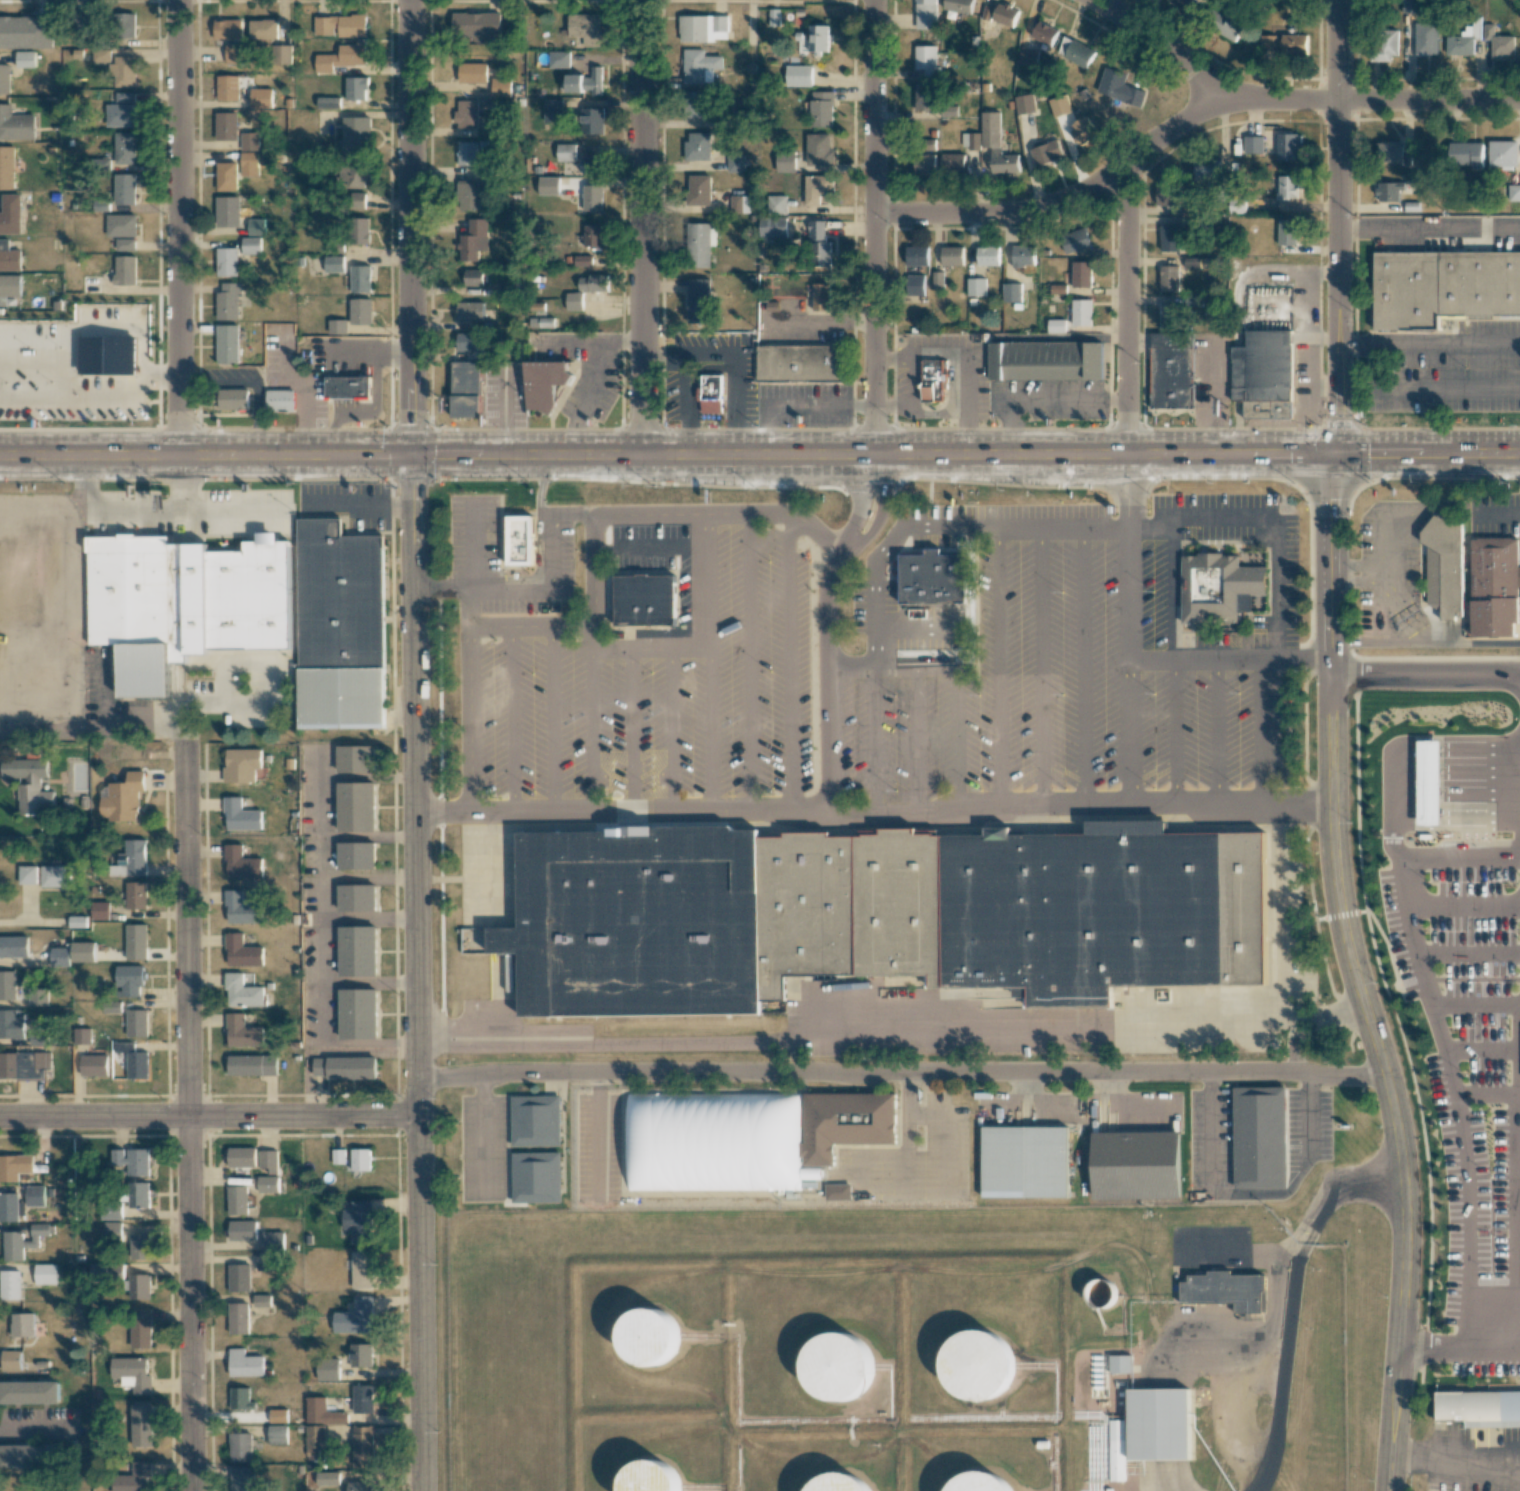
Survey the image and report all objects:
building: (1181, 4)
building: (959, 6)
building: (1411, 6)
building: (925, 14)
building: (1005, 15)
building: (773, 17)
building: (125, 25)
building: (340, 26)
building: (1232, 26)
building: (586, 28)
building: (703, 28)
building: (227, 29)
building: (263, 29)
building: (26, 32)
building: (1044, 33)
building: (818, 38)
building: (1426, 39)
building: (1464, 39)
building: (1498, 42)
building: (1385, 44)
building: (1284, 45)
building: (1075, 52)
building: (233, 53)
building: (101, 55)
building: (283, 55)
building: (1027, 56)
building: (341, 58)
building: (25, 59)
building: (558, 59)
building: (926, 60)
building: (700, 66)
building: (123, 72)
building: (472, 72)
building: (798, 75)
building: (5, 79)
building: (594, 81)
building: (1110, 81)
building: (574, 83)
building: (501, 87)
building: (227, 88)
building: (357, 88)
building: (125, 97)
building: (925, 97)
building: (261, 98)
road: (1285, 99)
building: (328, 102)
building: (694, 104)
building: (1024, 104)
building: (1059, 105)
building: (822, 109)
building: (553, 110)
building: (466, 114)
building: (120, 115)
building: (592, 120)
building: (15, 124)
building: (225, 126)
building: (1082, 130)
building: (356, 138)
building: (970, 140)
building: (249, 141)
building: (928, 144)
building: (996, 144)
building: (1253, 145)
building: (698, 146)
building: (1288, 147)
building: (125, 148)
building: (818, 151)
building: (566, 152)
building: (1046, 152)
building: (467, 153)
building: (1395, 154)
building: (1466, 154)
building: (1502, 154)
building: (784, 159)
building: (953, 162)
building: (249, 164)
building: (925, 164)
building: (592, 165)
building: (7, 167)
building: (1206, 169)
building: (226, 176)
building: (354, 177)
building: (548, 184)
building: (1286, 187)
building: (818, 188)
building: (124, 189)
building: (698, 190)
building: (1389, 191)
building: (1514, 193)
building: (468, 196)
building: (1165, 196)
building: (592, 198)
building: (355, 200)
building: (740, 203)
road: (1063, 205)
building: (227, 212)
building: (9, 214)
building: (121, 225)
road: (1340, 226)
road: (178, 227)
building: (256, 227)
road: (410, 227)
road: (643, 227)
building: (772, 227)
road: (878, 228)
road: (1430, 230)
building: (361, 231)
building: (1287, 232)
building: (593, 236)
building: (1169, 238)
building: (474, 240)
building: (1074, 241)
building: (125, 244)
building: (700, 244)
building: (251, 245)
building: (819, 245)
building: (917, 255)
building: (952, 256)
building: (988, 256)
building: (1023, 256)
building: (9, 257)
building: (582, 261)
building: (227, 262)
building: (1192, 263)
building: (333, 264)
building: (125, 270)
building: (1081, 274)
building: (474, 277)
building: (1169, 278)
building: (360, 279)
building: (937, 280)
building: (592, 283)
building: (91, 284)
building: (915, 285)
building: (976, 287)
building: (9, 288)
building: (1445, 290)
building: (1011, 292)
building: (821, 297)
building: (698, 300)
building: (227, 301)
building: (574, 301)
building: (360, 311)
building: (470, 311)
building: (1081, 312)
road: (1121, 315)
building: (1169, 316)
building: (541, 322)
building: (1055, 325)
building: (337, 326)
road: (587, 340)
building: (469, 342)
building: (227, 344)
road: (1357, 345)
road: (1447, 345)
building: (107, 356)
road: (735, 359)
building: (1045, 361)
building: (800, 363)
building: (1172, 370)
building: (1263, 375)
building: (931, 381)
building: (545, 384)
building: (347, 388)
road: (1425, 390)
building: (466, 391)
building: (711, 392)
road: (588, 398)
building: (233, 399)
road: (1070, 399)
building: (280, 400)
road: (685, 405)
road: (796, 405)
road: (502, 409)
road: (1009, 423)
traffic signals: (1335, 453)
traffic signals: (411, 455)
road: (760, 456)
road: (179, 484)
road: (86, 485)
road: (1124, 492)
road: (858, 501)
road: (881, 509)
road: (146, 514)
road: (574, 516)
road: (729, 516)
road: (1223, 517)
building: (520, 541)
road: (886, 548)
road: (1126, 553)
building: (1443, 567)
building: (16, 575)
building: (932, 578)
building: (1495, 585)
building: (1209, 588)
road: (504, 590)
building: (250, 597)
building: (188, 600)
building: (645, 600)
building: (132, 606)
road: (64, 626)
road: (555, 627)
road: (32, 628)
building: (340, 628)
road: (887, 630)
road: (874, 651)
road: (1324, 658)
road: (1223, 659)
road: (711, 662)
road: (750, 662)
road: (792, 663)
road: (998, 666)
road: (1041, 666)
road: (1083, 666)
road: (892, 670)
road: (1425, 671)
parking lot: (1058, 676)
parking lot: (623, 677)
road: (4, 683)
road: (269, 691)
road: (103, 692)
road: (475, 719)
road: (552, 719)
road: (511, 720)
road: (630, 728)
road: (672, 728)
road: (1174, 730)
road: (593, 731)
road: (1265, 731)
road: (1217, 732)
road: (93, 736)
road: (958, 738)
road: (828, 740)
road: (918, 740)
road: (875, 741)
road: (1400, 741)
road: (1456, 749)
building: (106, 753)
building: (355, 759)
building: (241, 765)
road: (1456, 770)
building: (28, 783)
building: (1424, 788)
road: (1456, 793)
building: (122, 798)
building: (355, 807)
road: (873, 811)
building: (240, 816)
road: (1457, 817)
building: (356, 855)
building: (130, 859)
building: (241, 863)
building: (27, 874)
building: (55, 876)
building: (135, 895)
building: (357, 898)
road: (1464, 903)
building: (242, 909)
building: (100, 911)
building: (873, 916)
building: (136, 942)
building: (14, 947)
building: (83, 951)
building: (357, 951)
road: (1468, 951)
building: (242, 952)
building: (60, 957)
road: (415, 973)
road: (1354, 974)
building: (129, 980)
building: (7, 985)
building: (241, 992)
building: (38, 997)
road: (1475, 1001)
building: (358, 1014)
building: (137, 1023)
building: (11, 1025)
building: (242, 1032)
building: (81, 1036)
road: (1441, 1041)
road: (1479, 1048)
building: (134, 1055)
building: (24, 1065)
building: (93, 1065)
building: (252, 1065)
building: (345, 1067)
road: (900, 1072)
road: (1485, 1092)
road: (188, 1113)
road: (208, 1114)
road: (1308, 1116)
building: (535, 1120)
building: (846, 1123)
road: (483, 1131)
road: (1211, 1132)
building: (1261, 1136)
building: (709, 1145)
building: (241, 1157)
building: (268, 1160)
building: (358, 1160)
building: (131, 1161)
building: (1025, 1161)
building: (17, 1168)
building: (1138, 1169)
building: (536, 1177)
road: (1516, 1178)
building: (268, 1184)
building: (839, 1192)
road: (1268, 1192)
building: (138, 1195)
building: (35, 1196)
building: (237, 1200)
building: (10, 1207)
building: (358, 1221)
building: (113, 1229)
building: (242, 1230)
building: (24, 1241)
building: (272, 1241)
building: (265, 1262)
building: (361, 1269)
building: (45, 1274)
building: (239, 1278)
building: (10, 1285)
building: (139, 1287)
building: (1224, 1289)
building: (261, 1300)
road: (1289, 1305)
building: (357, 1316)
building: (238, 1318)
building: (24, 1324)
building: (141, 1328)
building: (649, 1338)
road: (1458, 1346)
building: (361, 1355)
building: (244, 1364)
building: (1120, 1364)
building: (978, 1365)
building: (837, 1366)
building: (328, 1369)
building: (132, 1374)
building: (29, 1392)
building: (240, 1399)
building: (363, 1399)
building: (1479, 1408)
building: (322, 1412)
building: (278, 1415)
building: (1157, 1423)
building: (141, 1425)
building: (278, 1435)
building: (314, 1441)
building: (363, 1446)
building: (240, 1447)
road: (1455, 1450)
building: (30, 1456)
building: (650, 1477)
building: (133, 1478)
building: (241, 1478)
building: (328, 1478)
building: (980, 1482)
building: (839, 1483)
road: (1164, 1483)
building: (359, 1486)

